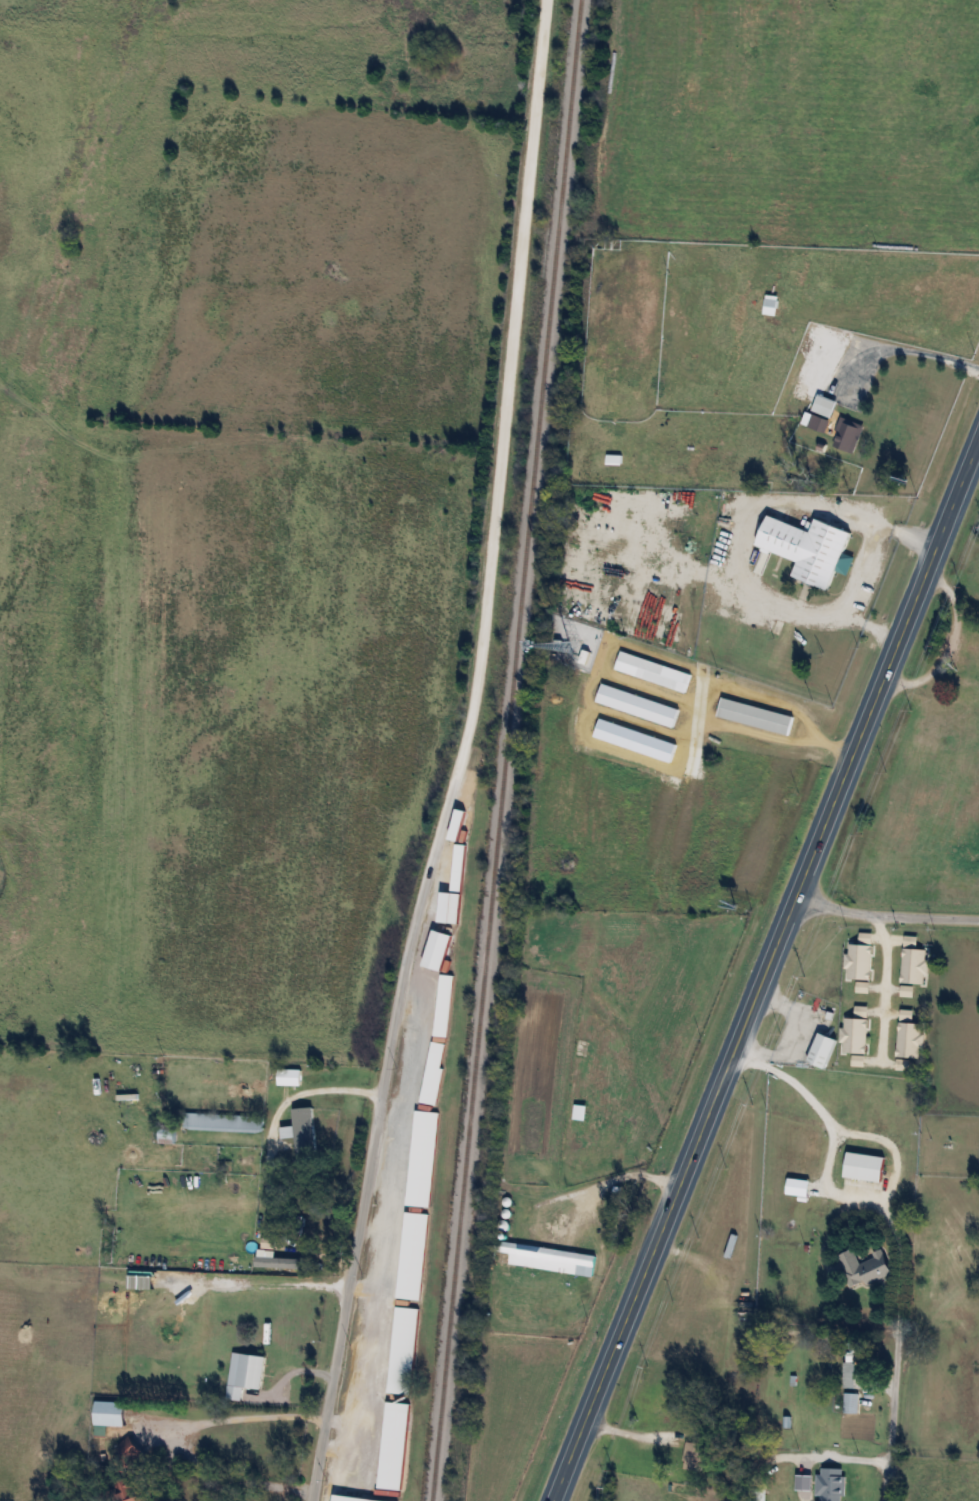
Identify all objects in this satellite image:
building: (770, 306)
road: (898, 351)
building: (822, 412)
building: (847, 435)
building: (614, 459)
road: (906, 535)
building: (809, 548)
road: (740, 574)
building: (972, 649)
building: (653, 671)
road: (738, 691)
building: (755, 716)
railway: (508, 750)
road: (460, 755)
building: (459, 868)
building: (454, 908)
road: (886, 916)
building: (437, 950)
road: (768, 967)
road: (879, 986)
building: (444, 1005)
building: (882, 1021)
building: (822, 1050)
building: (434, 1072)
building: (223, 1122)
building: (304, 1131)
building: (167, 1133)
building: (584, 1134)
road: (261, 1155)
building: (422, 1158)
building: (864, 1166)
building: (413, 1255)
building: (544, 1258)
building: (285, 1264)
building: (864, 1268)
building: (404, 1349)
building: (856, 1351)
road: (896, 1353)
building: (250, 1370)
building: (851, 1402)
building: (110, 1412)
road: (233, 1418)
road: (634, 1433)
building: (394, 1445)
building: (129, 1451)
building: (693, 1456)
road: (842, 1458)
building: (830, 1484)
building: (131, 1489)
building: (757, 1495)
building: (354, 1498)

